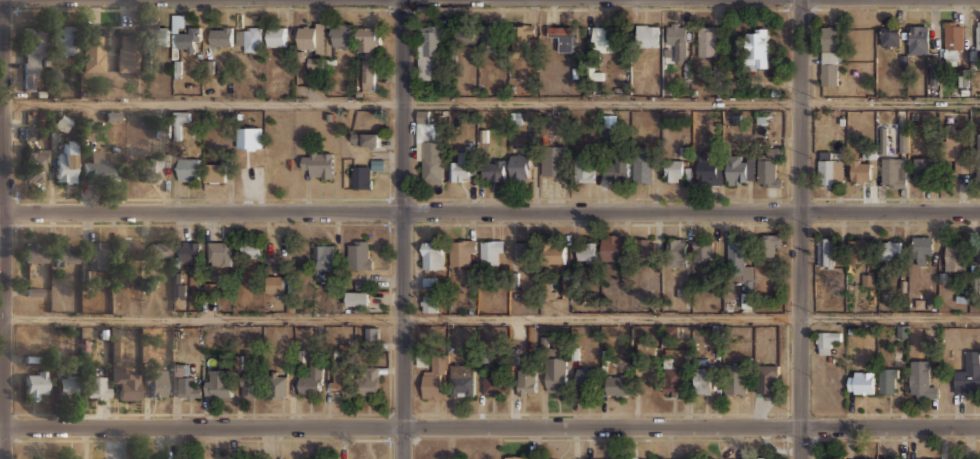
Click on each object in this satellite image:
road: (0, 0)
building: (676, 33)
building: (978, 33)
building: (158, 35)
building: (220, 35)
building: (341, 35)
building: (647, 35)
building: (890, 35)
building: (952, 35)
building: (276, 36)
building: (310, 37)
building: (465, 37)
building: (63, 38)
building: (189, 38)
building: (248, 38)
building: (490, 38)
building: (563, 38)
building: (604, 38)
building: (920, 38)
building: (521, 40)
building: (707, 40)
building: (755, 48)
building: (429, 49)
building: (93, 53)
building: (127, 53)
building: (829, 55)
building: (368, 56)
building: (32, 58)
road: (492, 101)
building: (62, 122)
building: (609, 127)
building: (163, 129)
building: (30, 133)
building: (249, 137)
building: (371, 139)
building: (882, 139)
building: (903, 139)
building: (955, 150)
building: (429, 152)
building: (685, 152)
building: (170, 160)
building: (553, 160)
building: (978, 162)
building: (66, 163)
building: (318, 163)
building: (35, 164)
building: (462, 166)
building: (519, 166)
building: (767, 166)
building: (95, 167)
building: (584, 167)
building: (150, 168)
building: (188, 168)
building: (738, 168)
building: (617, 169)
building: (707, 169)
building: (828, 169)
building: (493, 170)
building: (642, 170)
building: (674, 170)
building: (861, 170)
building: (922, 171)
building: (215, 172)
building: (893, 172)
building: (361, 176)
road: (2, 210)
road: (490, 212)
road: (4, 229)
road: (402, 229)
road: (799, 229)
building: (644, 246)
building: (128, 247)
building: (612, 247)
building: (769, 247)
building: (158, 249)
building: (251, 249)
building: (702, 249)
building: (889, 249)
building: (922, 249)
building: (461, 250)
building: (676, 250)
building: (856, 250)
building: (491, 251)
building: (525, 251)
building: (586, 251)
building: (826, 251)
building: (36, 252)
building: (189, 252)
building: (219, 252)
building: (979, 252)
building: (554, 253)
building: (65, 254)
building: (97, 254)
building: (359, 254)
building: (433, 255)
building: (324, 256)
building: (954, 256)
building: (737, 261)
building: (274, 283)
building: (178, 286)
building: (36, 292)
building: (357, 297)
building: (683, 297)
building: (747, 301)
building: (429, 302)
road: (489, 318)
building: (372, 335)
building: (826, 340)
building: (116, 351)
building: (555, 373)
building: (968, 373)
building: (312, 375)
building: (340, 378)
building: (435, 378)
building: (585, 378)
building: (766, 378)
building: (369, 380)
building: (462, 380)
building: (672, 380)
building: (703, 380)
building: (735, 380)
building: (888, 380)
building: (920, 380)
building: (125, 381)
building: (526, 381)
building: (861, 381)
building: (156, 382)
building: (35, 383)
building: (220, 384)
building: (65, 385)
building: (250, 385)
building: (493, 385)
building: (617, 385)
building: (97, 386)
building: (278, 386)
building: (188, 387)
road: (490, 426)
building: (523, 457)
building: (604, 458)
building: (658, 458)
building: (683, 458)
building: (827, 458)
building: (858, 458)
building: (893, 458)

